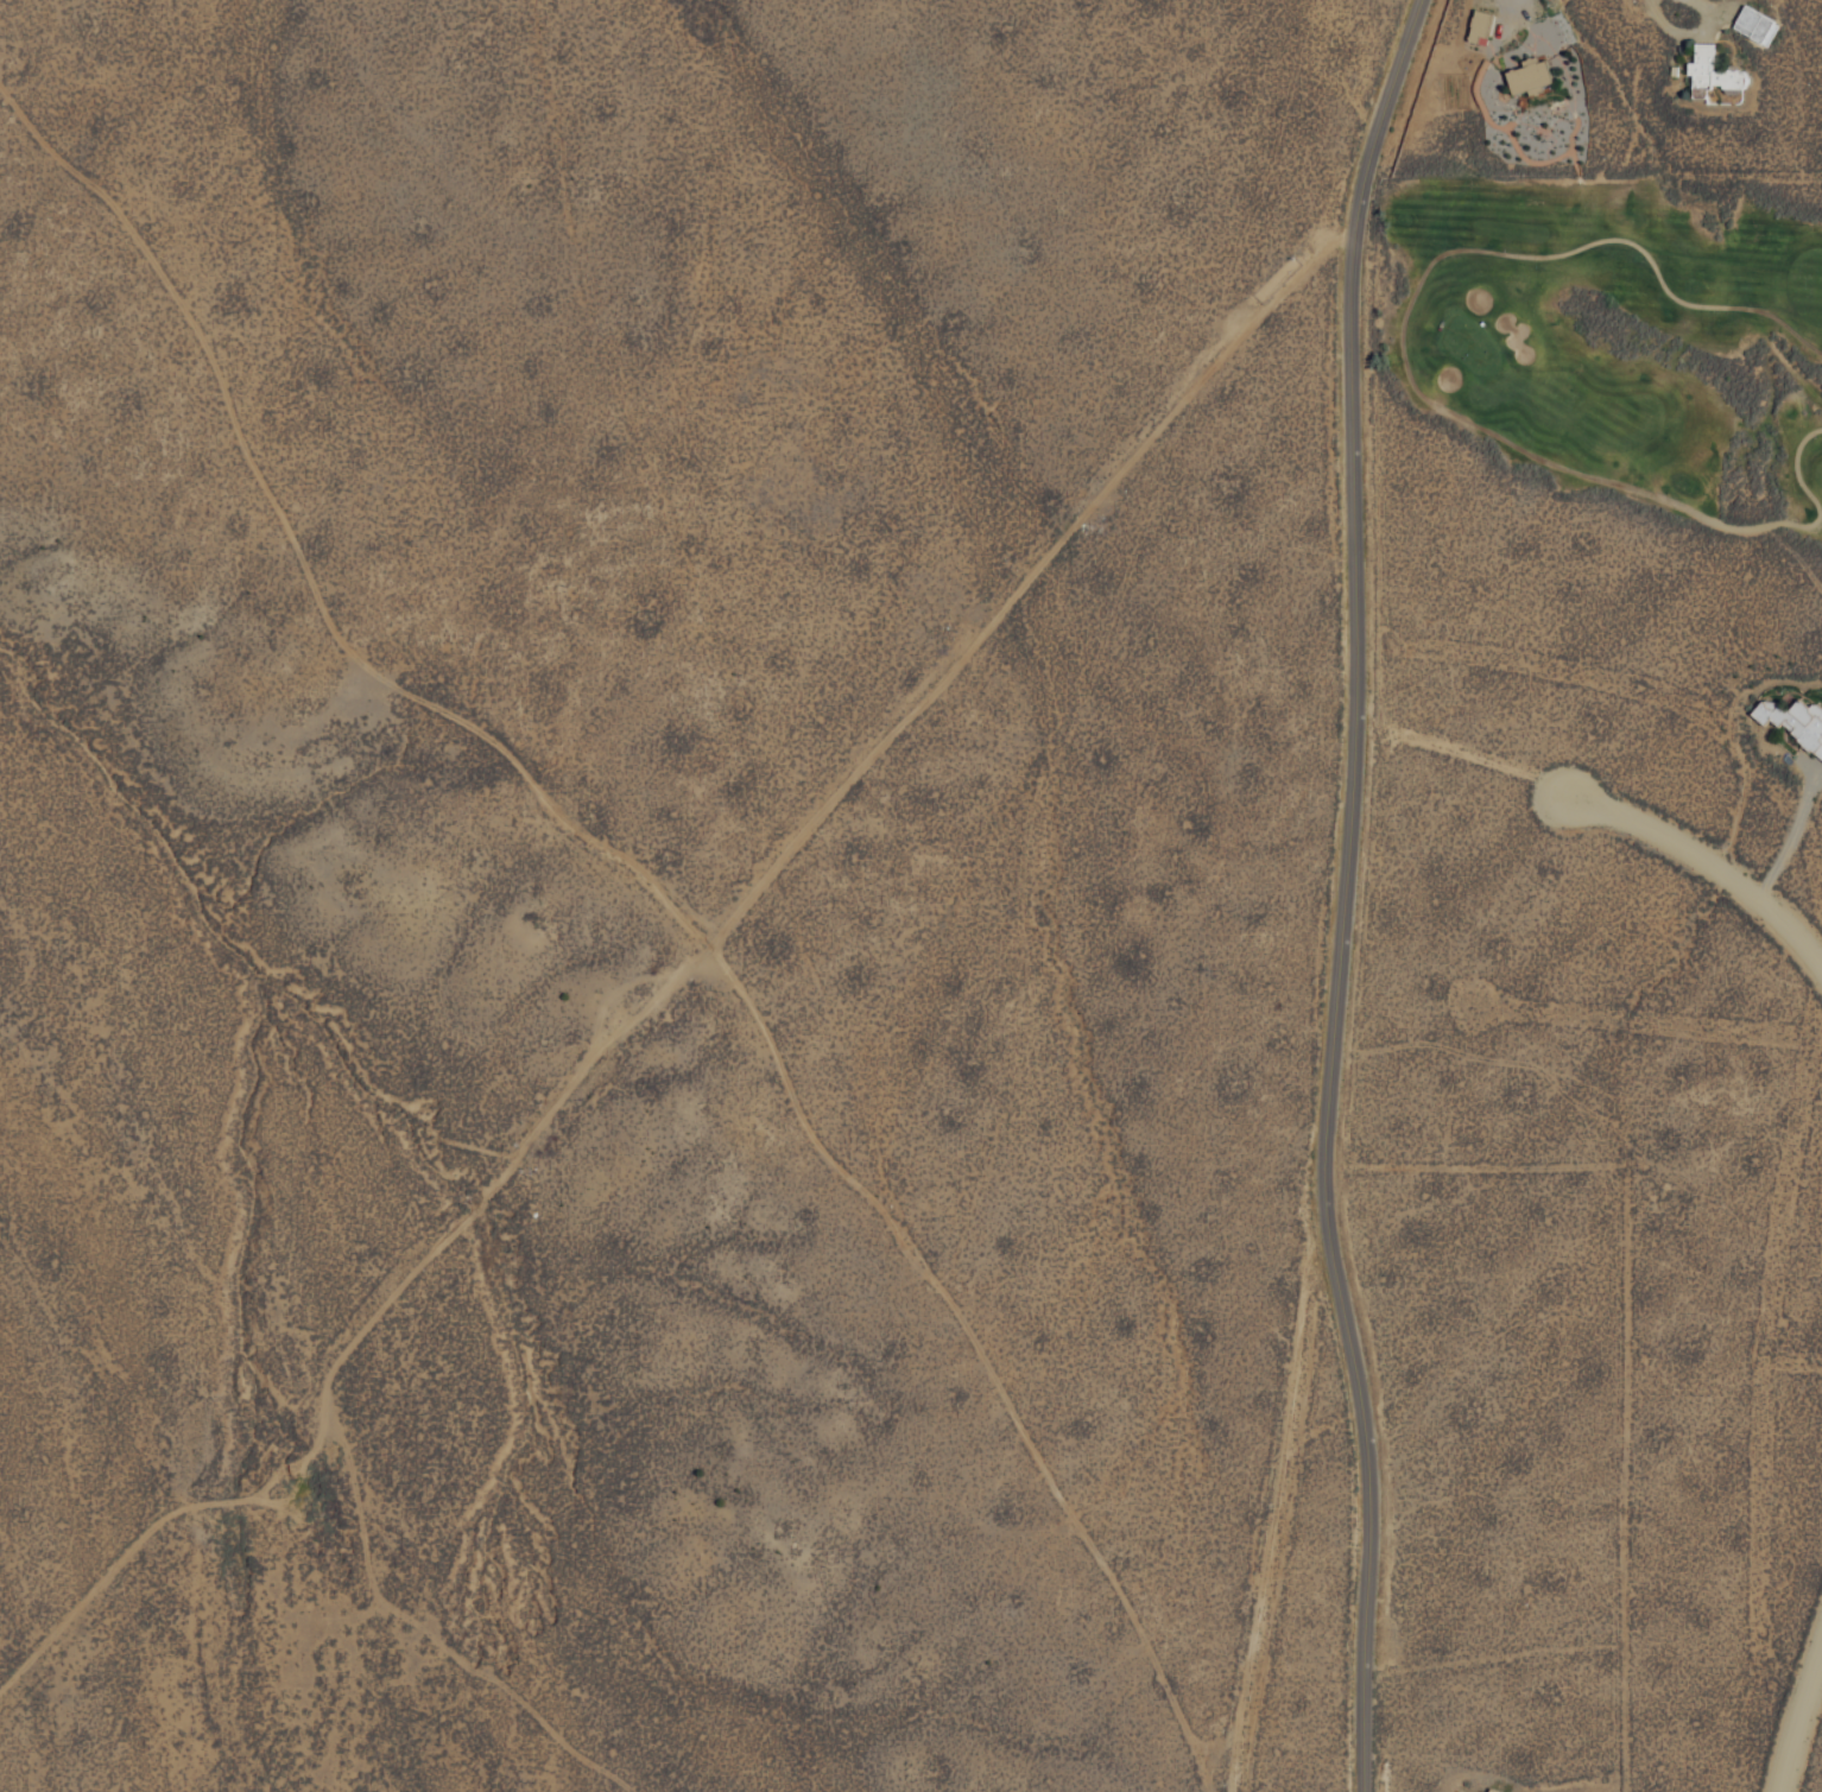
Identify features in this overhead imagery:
building: (1478, 26)
building: (1708, 71)
building: (1525, 76)
park: (1620, 341)
building: (1793, 721)
road: (1707, 862)
road: (658, 887)
road: (1342, 893)
road: (1798, 1712)
building: (1489, 1790)
building: (1459, 1791)

